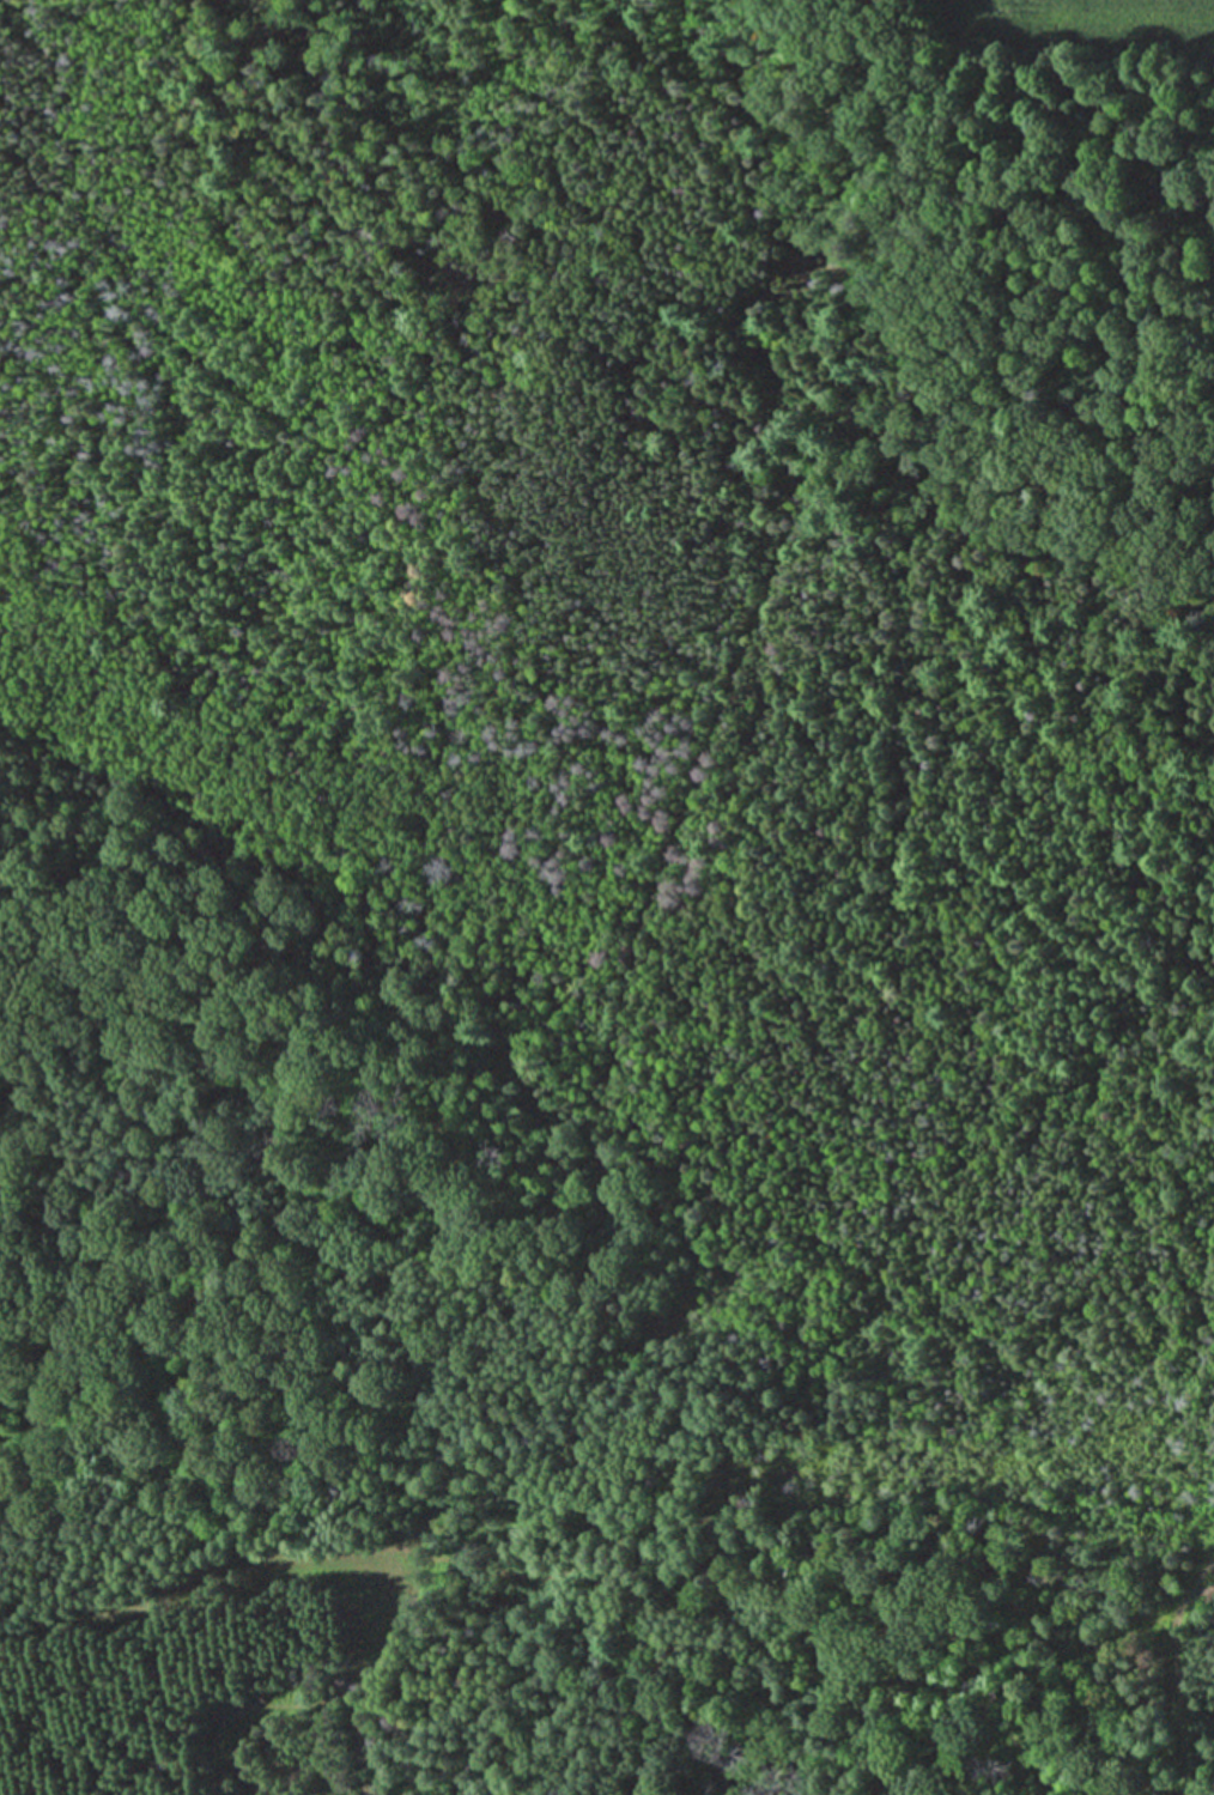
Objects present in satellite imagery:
quarry: (1179, 1752)

